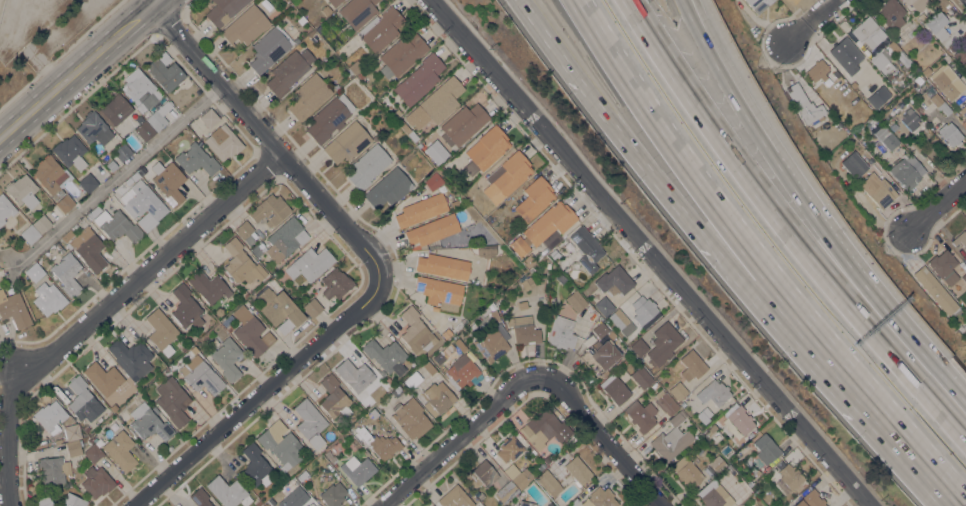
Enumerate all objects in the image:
road: (155, 1)
building: (334, 2)
road: (1, 4)
building: (758, 4)
building: (917, 4)
building: (223, 10)
building: (951, 10)
building: (357, 12)
building: (891, 12)
road: (812, 22)
building: (844, 24)
building: (937, 24)
building: (245, 25)
building: (381, 29)
building: (868, 32)
building: (963, 38)
building: (954, 46)
building: (268, 49)
building: (402, 54)
building: (846, 54)
building: (960, 57)
building: (901, 58)
building: (882, 61)
building: (355, 67)
building: (823, 70)
road: (77, 71)
building: (164, 71)
building: (288, 71)
building: (926, 71)
building: (348, 72)
building: (360, 75)
building: (419, 79)
building: (947, 81)
building: (336, 85)
building: (137, 86)
building: (308, 96)
building: (878, 96)
building: (442, 99)
building: (804, 103)
building: (939, 103)
building: (116, 110)
building: (963, 110)
road: (752, 111)
building: (411, 112)
building: (209, 118)
building: (329, 118)
building: (910, 118)
building: (156, 119)
building: (873, 120)
building: (464, 123)
building: (92, 128)
building: (145, 132)
building: (950, 133)
building: (886, 137)
building: (223, 142)
building: (347, 142)
road: (268, 144)
building: (486, 149)
building: (70, 151)
building: (122, 152)
building: (197, 159)
building: (865, 159)
road: (740, 163)
building: (368, 166)
road: (639, 167)
building: (906, 171)
building: (512, 173)
road: (117, 175)
building: (50, 176)
building: (132, 177)
building: (433, 181)
building: (88, 182)
building: (168, 182)
building: (388, 188)
building: (878, 189)
building: (22, 191)
building: (534, 198)
building: (65, 203)
building: (143, 204)
road: (937, 206)
building: (5, 208)
building: (421, 209)
building: (269, 210)
road: (715, 211)
building: (93, 212)
building: (549, 222)
building: (42, 223)
building: (117, 225)
building: (432, 229)
building: (246, 232)
building: (29, 234)
building: (285, 239)
building: (960, 239)
building: (519, 246)
building: (258, 248)
building: (586, 248)
building: (90, 249)
building: (486, 250)
road: (650, 252)
building: (241, 262)
building: (309, 263)
building: (443, 266)
road: (845, 266)
building: (944, 266)
road: (148, 267)
building: (34, 272)
building: (67, 273)
building: (964, 277)
building: (560, 278)
building: (614, 281)
building: (335, 283)
building: (526, 283)
building: (209, 286)
building: (936, 291)
building: (440, 292)
building: (245, 294)
building: (48, 298)
building: (576, 300)
building: (522, 304)
building: (604, 305)
building: (186, 307)
building: (312, 307)
building: (643, 308)
building: (13, 309)
building: (279, 309)
building: (495, 315)
building: (621, 322)
building: (229, 327)
building: (524, 329)
building: (600, 329)
building: (161, 331)
building: (251, 331)
building: (416, 332)
building: (561, 332)
building: (446, 333)
building: (492, 342)
building: (663, 343)
building: (459, 345)
building: (639, 347)
building: (385, 355)
building: (599, 356)
building: (131, 357)
building: (227, 358)
building: (438, 358)
building: (692, 365)
building: (428, 367)
road: (824, 369)
road: (917, 369)
building: (461, 371)
building: (200, 374)
building: (353, 374)
building: (103, 377)
building: (642, 377)
building: (655, 385)
building: (614, 388)
building: (678, 390)
road: (262, 392)
building: (714, 392)
building: (334, 397)
building: (436, 399)
building: (83, 400)
building: (172, 401)
building: (665, 402)
building: (111, 404)
building: (373, 412)
building: (704, 414)
building: (641, 415)
building: (50, 416)
building: (412, 418)
building: (740, 419)
building: (149, 422)
building: (310, 422)
building: (540, 427)
building: (710, 430)
building: (71, 432)
road: (462, 438)
road: (600, 438)
building: (671, 438)
road: (6, 441)
building: (58, 441)
building: (280, 442)
building: (379, 444)
building: (74, 447)
building: (509, 448)
building: (766, 448)
building: (121, 450)
building: (93, 453)
building: (331, 458)
road: (915, 459)
building: (547, 460)
building: (717, 462)
building: (750, 464)
building: (256, 466)
building: (53, 469)
building: (357, 469)
building: (577, 469)
building: (687, 471)
building: (482, 474)
building: (518, 474)
building: (302, 475)
building: (790, 476)
building: (97, 481)
building: (548, 482)
building: (228, 492)
building: (505, 492)
building: (333, 494)
building: (277, 495)
building: (715, 495)
building: (200, 497)
building: (293, 497)
building: (455, 497)
building: (600, 498)
building: (810, 499)
building: (73, 500)
building: (44, 501)
building: (573, 502)
building: (525, 503)
building: (310, 504)
building: (549, 504)
building: (430, 505)
building: (566, 505)

